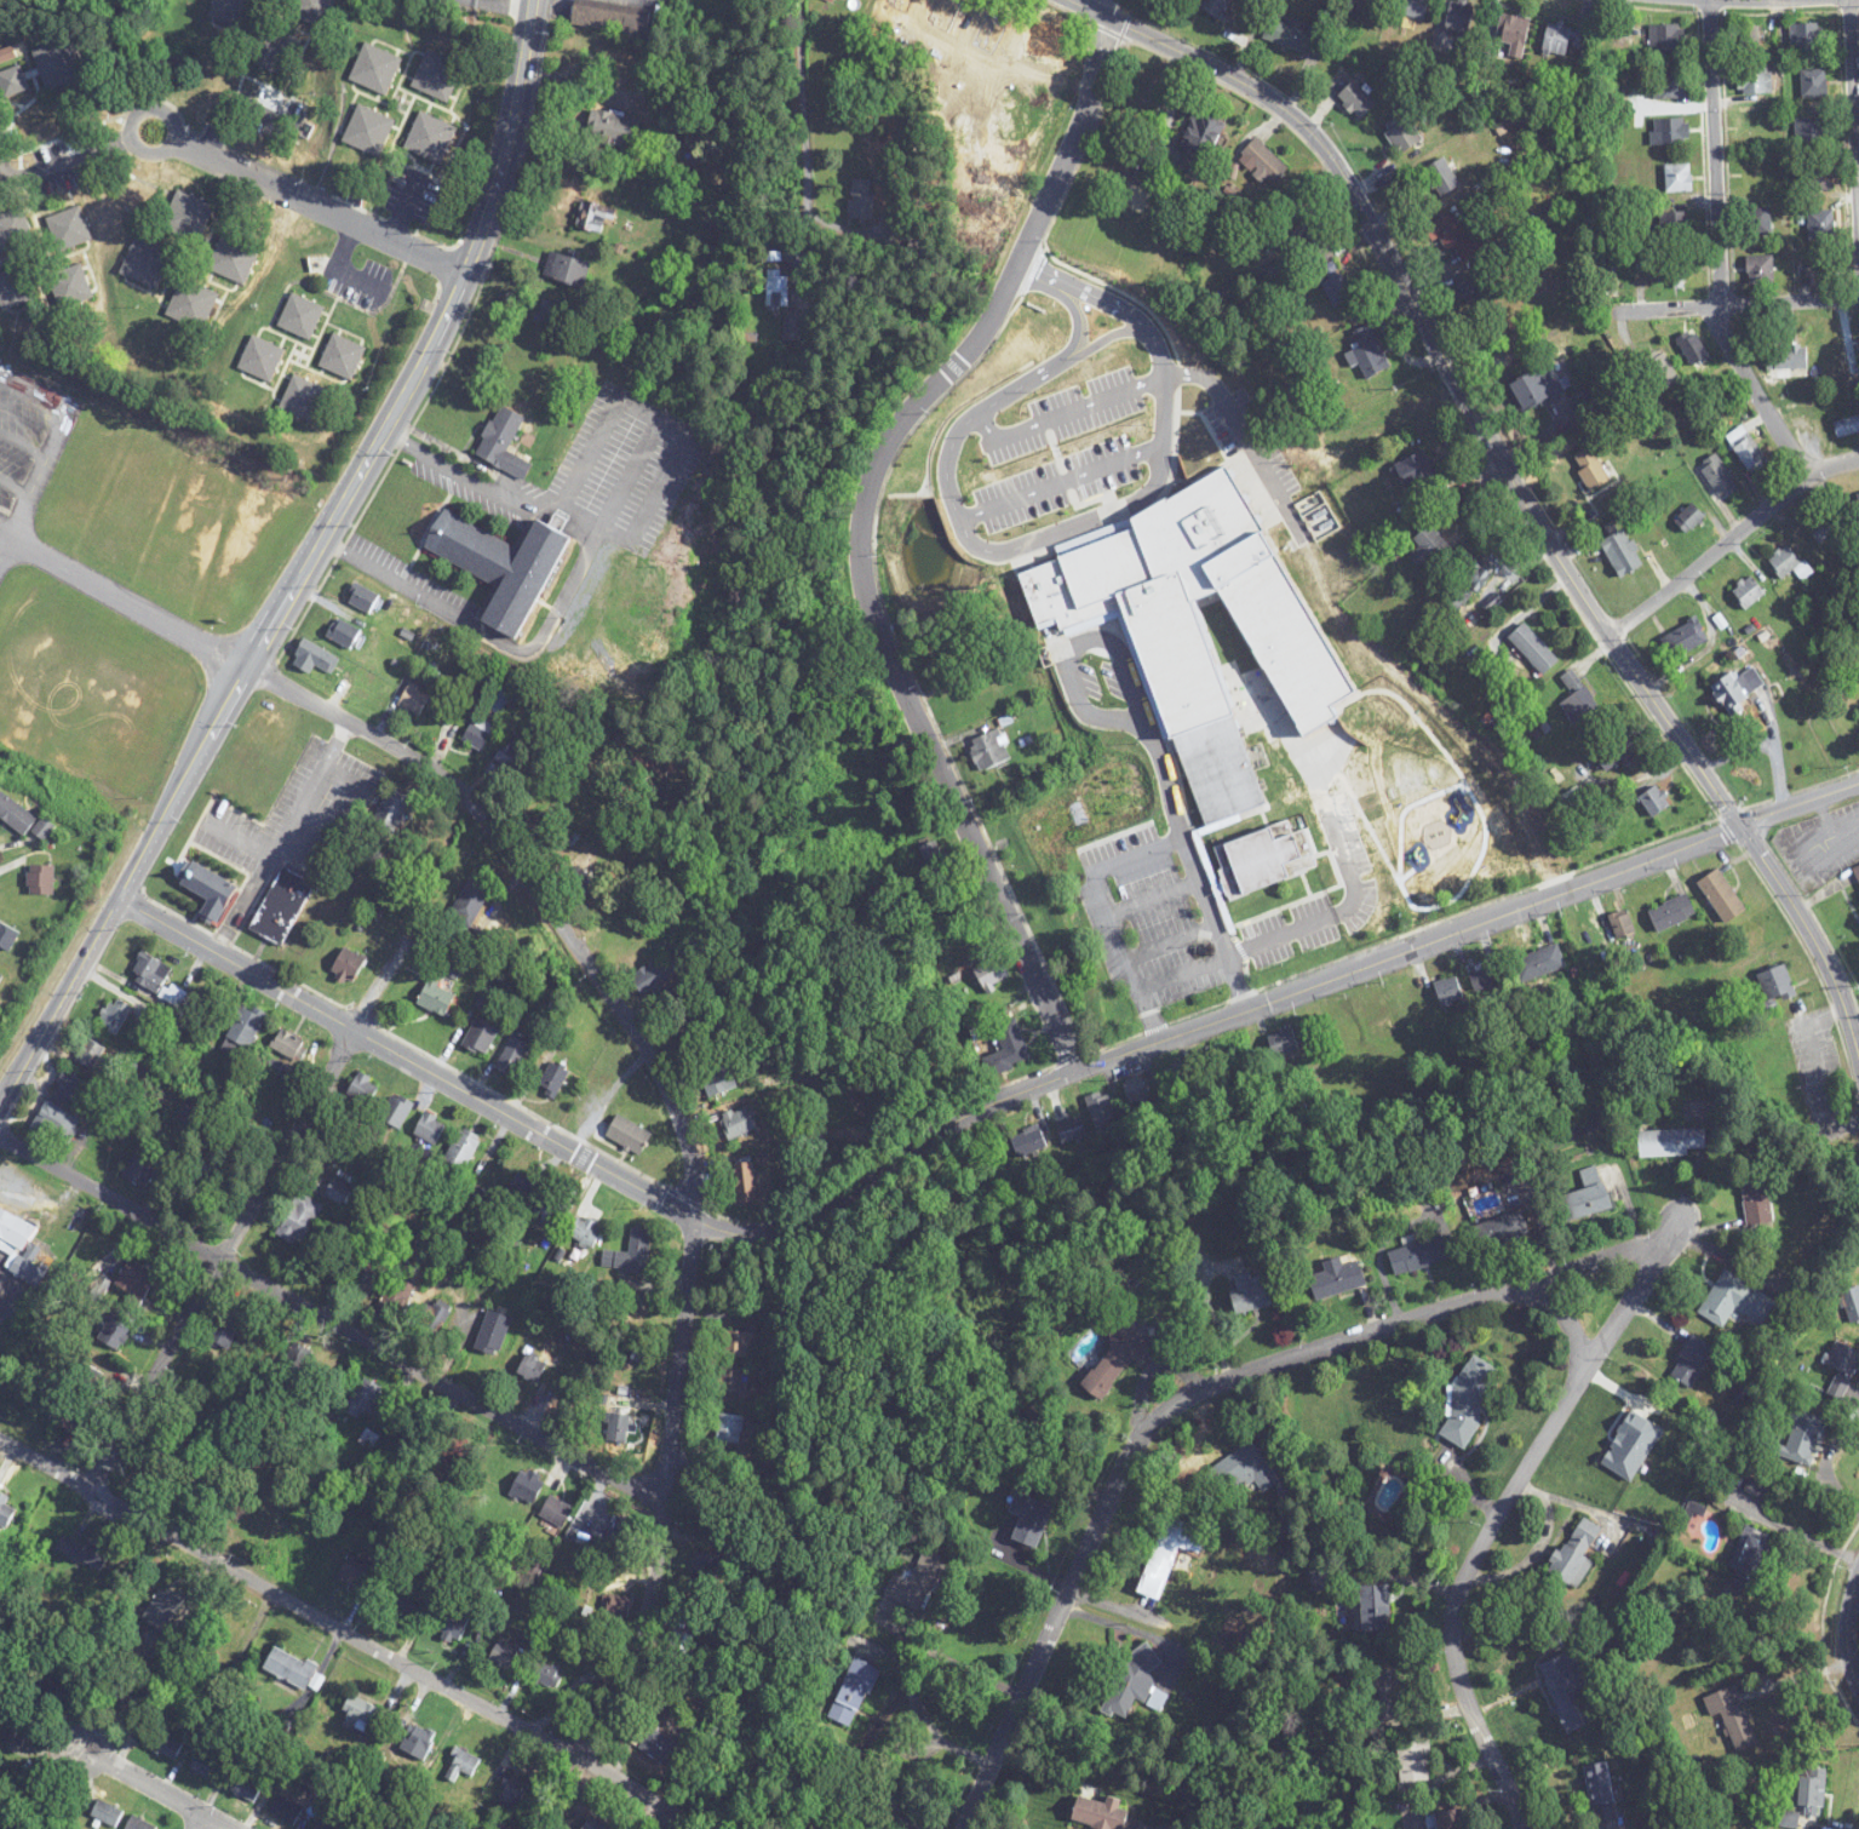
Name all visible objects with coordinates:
building: (833, 1)
road: (500, 5)
road: (1085, 8)
road: (1105, 8)
building: (1215, 8)
building: (1361, 8)
building: (1415, 8)
building: (230, 12)
building: (311, 12)
building: (1458, 17)
building: (610, 22)
building: (1292, 35)
building: (1513, 35)
building: (1806, 38)
building: (1750, 39)
building: (1561, 40)
building: (1666, 44)
building: (272, 51)
building: (58, 65)
road: (801, 65)
building: (375, 70)
building: (10, 75)
building: (436, 76)
building: (1754, 82)
building: (1669, 85)
building: (1813, 85)
road: (1854, 98)
building: (1355, 101)
road: (231, 110)
building: (612, 130)
building: (368, 131)
building: (1812, 131)
building: (1670, 132)
building: (1401, 134)
road: (509, 137)
building: (430, 138)
building: (1198, 143)
road: (75, 157)
building: (1264, 162)
building: (1760, 174)
building: (1820, 177)
building: (1441, 178)
building: (1677, 178)
road: (309, 200)
building: (860, 200)
building: (187, 217)
building: (595, 217)
building: (1757, 222)
building: (1675, 224)
building: (1820, 224)
building: (68, 229)
building: (1299, 231)
building: (8, 234)
building: (1455, 237)
road: (1717, 248)
building: (233, 259)
building: (145, 263)
road: (335, 265)
building: (1760, 269)
building: (567, 270)
building: (1674, 270)
building: (1823, 273)
road: (1038, 280)
building: (69, 287)
building: (15, 288)
building: (1473, 289)
building: (776, 291)
building: (1337, 292)
road: (1739, 304)
building: (191, 305)
building: (300, 317)
building: (547, 317)
building: (793, 327)
building: (1858, 348)
building: (1692, 349)
building: (1369, 351)
building: (342, 357)
building: (260, 360)
building: (1785, 360)
building: (1662, 369)
building: (1534, 389)
building: (303, 400)
road: (659, 422)
building: (1847, 426)
road: (1244, 436)
road: (56, 440)
building: (503, 443)
road: (24, 445)
building: (1746, 449)
road: (457, 469)
building: (1415, 470)
building: (1591, 470)
building: (1717, 477)
road: (16, 488)
road: (1522, 493)
road: (1022, 495)
building: (1853, 511)
building: (1689, 518)
building: (1824, 527)
road: (6, 531)
road: (862, 533)
road: (1729, 539)
building: (1427, 546)
road: (6, 547)
road: (337, 547)
building: (1622, 554)
building: (1789, 563)
building: (503, 566)
building: (1468, 585)
building: (1749, 592)
road: (132, 598)
building: (362, 598)
building: (344, 633)
road: (544, 638)
building: (1683, 640)
building: (1533, 649)
building: (314, 659)
building: (1737, 688)
road: (234, 690)
building: (1577, 699)
building: (414, 700)
building: (482, 732)
road: (1146, 745)
building: (989, 751)
building: (1613, 751)
building: (507, 756)
building: (1218, 772)
building: (1654, 802)
building: (21, 818)
building: (389, 818)
road: (282, 835)
building: (1358, 853)
building: (929, 856)
building: (1855, 875)
road: (1089, 877)
building: (40, 881)
building: (579, 882)
building: (210, 891)
building: (1722, 896)
building: (470, 902)
building: (282, 906)
road: (1322, 911)
building: (1671, 913)
building: (1590, 938)
building: (1538, 964)
building: (348, 965)
road: (1175, 965)
building: (992, 971)
building: (0, 976)
building: (650, 977)
building: (155, 980)
road: (379, 986)
building: (1775, 986)
building: (1448, 992)
building: (436, 998)
road: (1266, 1002)
road: (1140, 1011)
building: (114, 1015)
building: (687, 1031)
building: (242, 1032)
building: (480, 1037)
building: (1284, 1044)
building: (287, 1045)
building: (1008, 1050)
building: (88, 1054)
building: (512, 1056)
road: (407, 1059)
road: (1815, 1065)
building: (1178, 1079)
building: (552, 1080)
building: (719, 1082)
building: (71, 1088)
building: (362, 1089)
building: (1136, 1093)
building: (395, 1112)
building: (1101, 1113)
building: (56, 1123)
building: (738, 1124)
building: (429, 1129)
road: (678, 1129)
building: (1071, 1131)
building: (629, 1135)
building: (1028, 1143)
building: (1671, 1143)
building: (461, 1151)
building: (138, 1170)
building: (746, 1183)
building: (524, 1187)
building: (337, 1192)
building: (1585, 1198)
building: (1755, 1200)
building: (551, 1215)
building: (298, 1220)
building: (1498, 1227)
building: (15, 1232)
building: (585, 1233)
road: (1608, 1250)
building: (1423, 1255)
building: (630, 1256)
road: (217, 1257)
building: (25, 1271)
building: (363, 1278)
building: (1337, 1279)
building: (138, 1282)
building: (1253, 1294)
road: (1633, 1294)
building: (1735, 1302)
building: (1852, 1305)
road: (1210, 1315)
road: (327, 1325)
building: (225, 1328)
building: (492, 1334)
building: (113, 1335)
building: (738, 1344)
building: (643, 1359)
building: (1842, 1359)
building: (1119, 1360)
building: (1691, 1361)
building: (532, 1368)
building: (731, 1382)
building: (363, 1399)
road: (1174, 1400)
building: (1467, 1403)
building: (64, 1410)
building: (615, 1429)
building: (730, 1429)
building: (1801, 1437)
road: (1825, 1469)
building: (1243, 1470)
building: (193, 1483)
building: (527, 1487)
building: (5, 1513)
building: (556, 1513)
building: (1029, 1519)
building: (625, 1531)
road: (1805, 1537)
building: (1576, 1554)
building: (1164, 1556)
building: (1746, 1561)
building: (354, 1571)
building: (919, 1582)
road: (1459, 1583)
building: (404, 1604)
building: (1376, 1609)
building: (161, 1610)
building: (453, 1626)
road: (1848, 1628)
road: (1132, 1630)
road: (344, 1632)
road: (942, 1656)
building: (505, 1657)
building: (293, 1670)
building: (546, 1676)
building: (1135, 1685)
building: (856, 1686)
building: (54, 1687)
building: (1568, 1691)
building: (1387, 1696)
building: (358, 1713)
building: (1732, 1719)
building: (16, 1732)
building: (417, 1743)
building: (166, 1747)
building: (656, 1747)
building: (1413, 1762)
building: (461, 1766)
building: (205, 1767)
road: (153, 1788)
building: (245, 1789)
building: (1601, 1793)
building: (1812, 1793)
building: (511, 1798)
building: (285, 1811)
building: (105, 1814)
building: (1102, 1814)
building: (1450, 1819)
building: (138, 1824)
road: (205, 1824)
building: (321, 1827)
road: (688, 1827)

